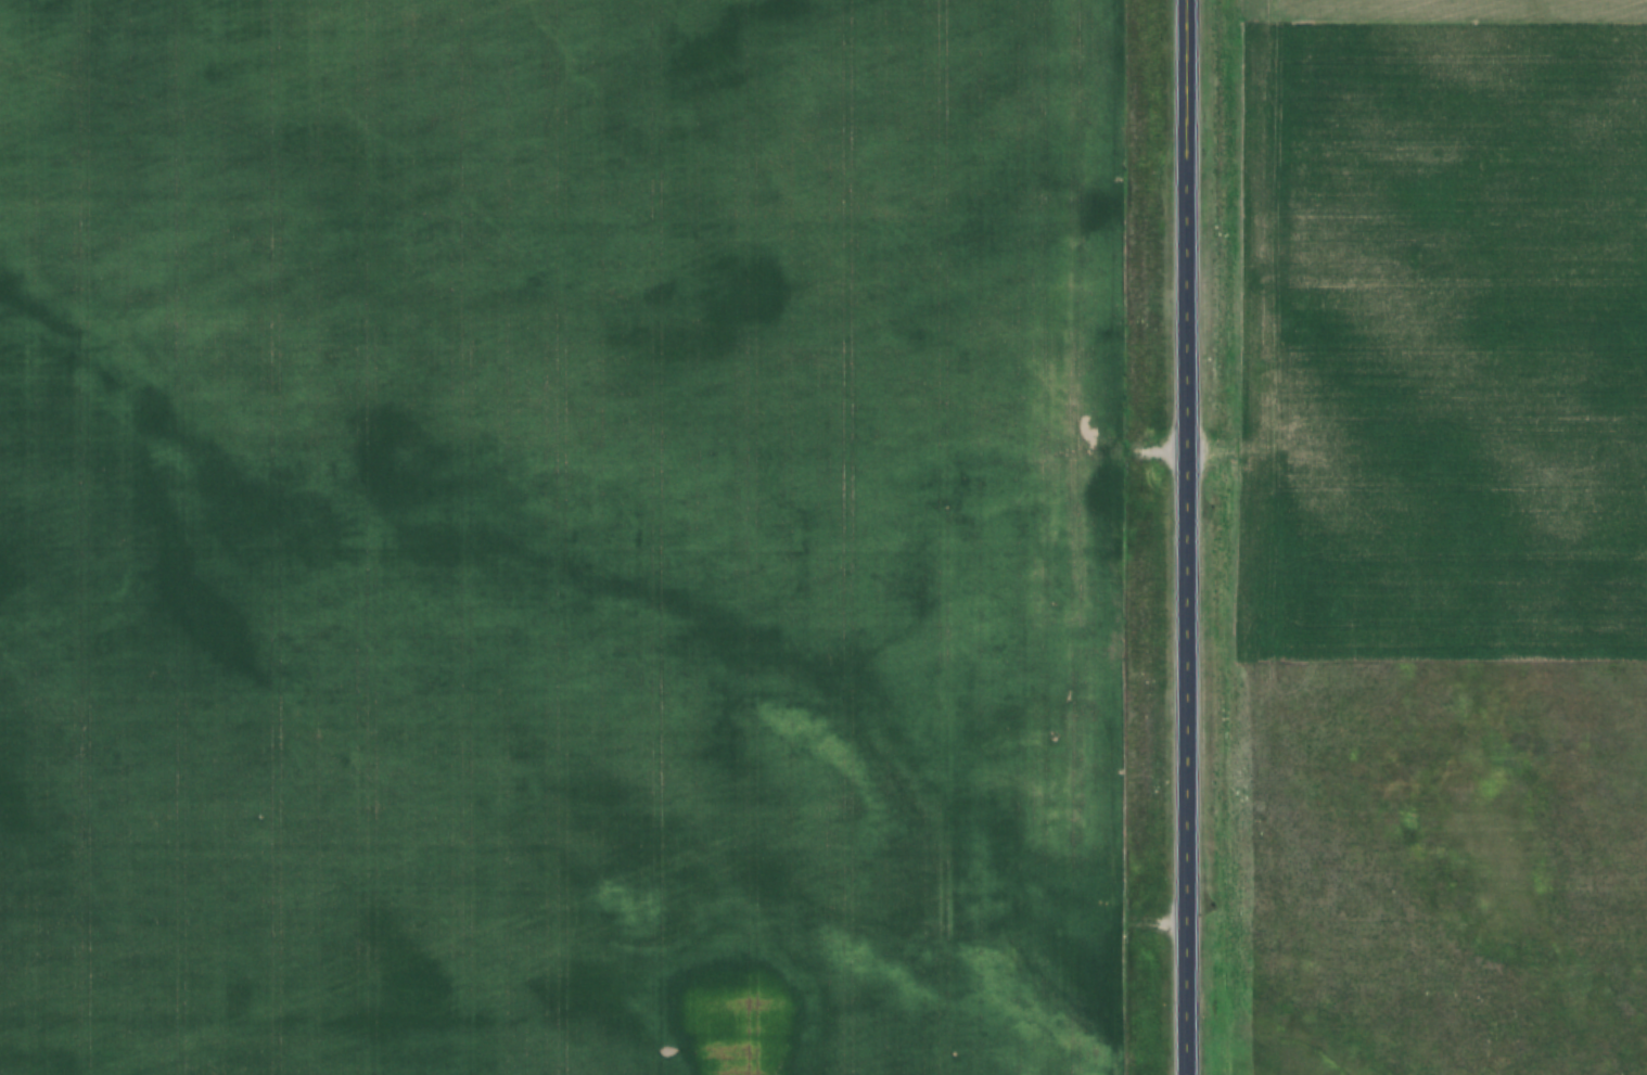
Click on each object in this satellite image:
road: (1187, 537)

